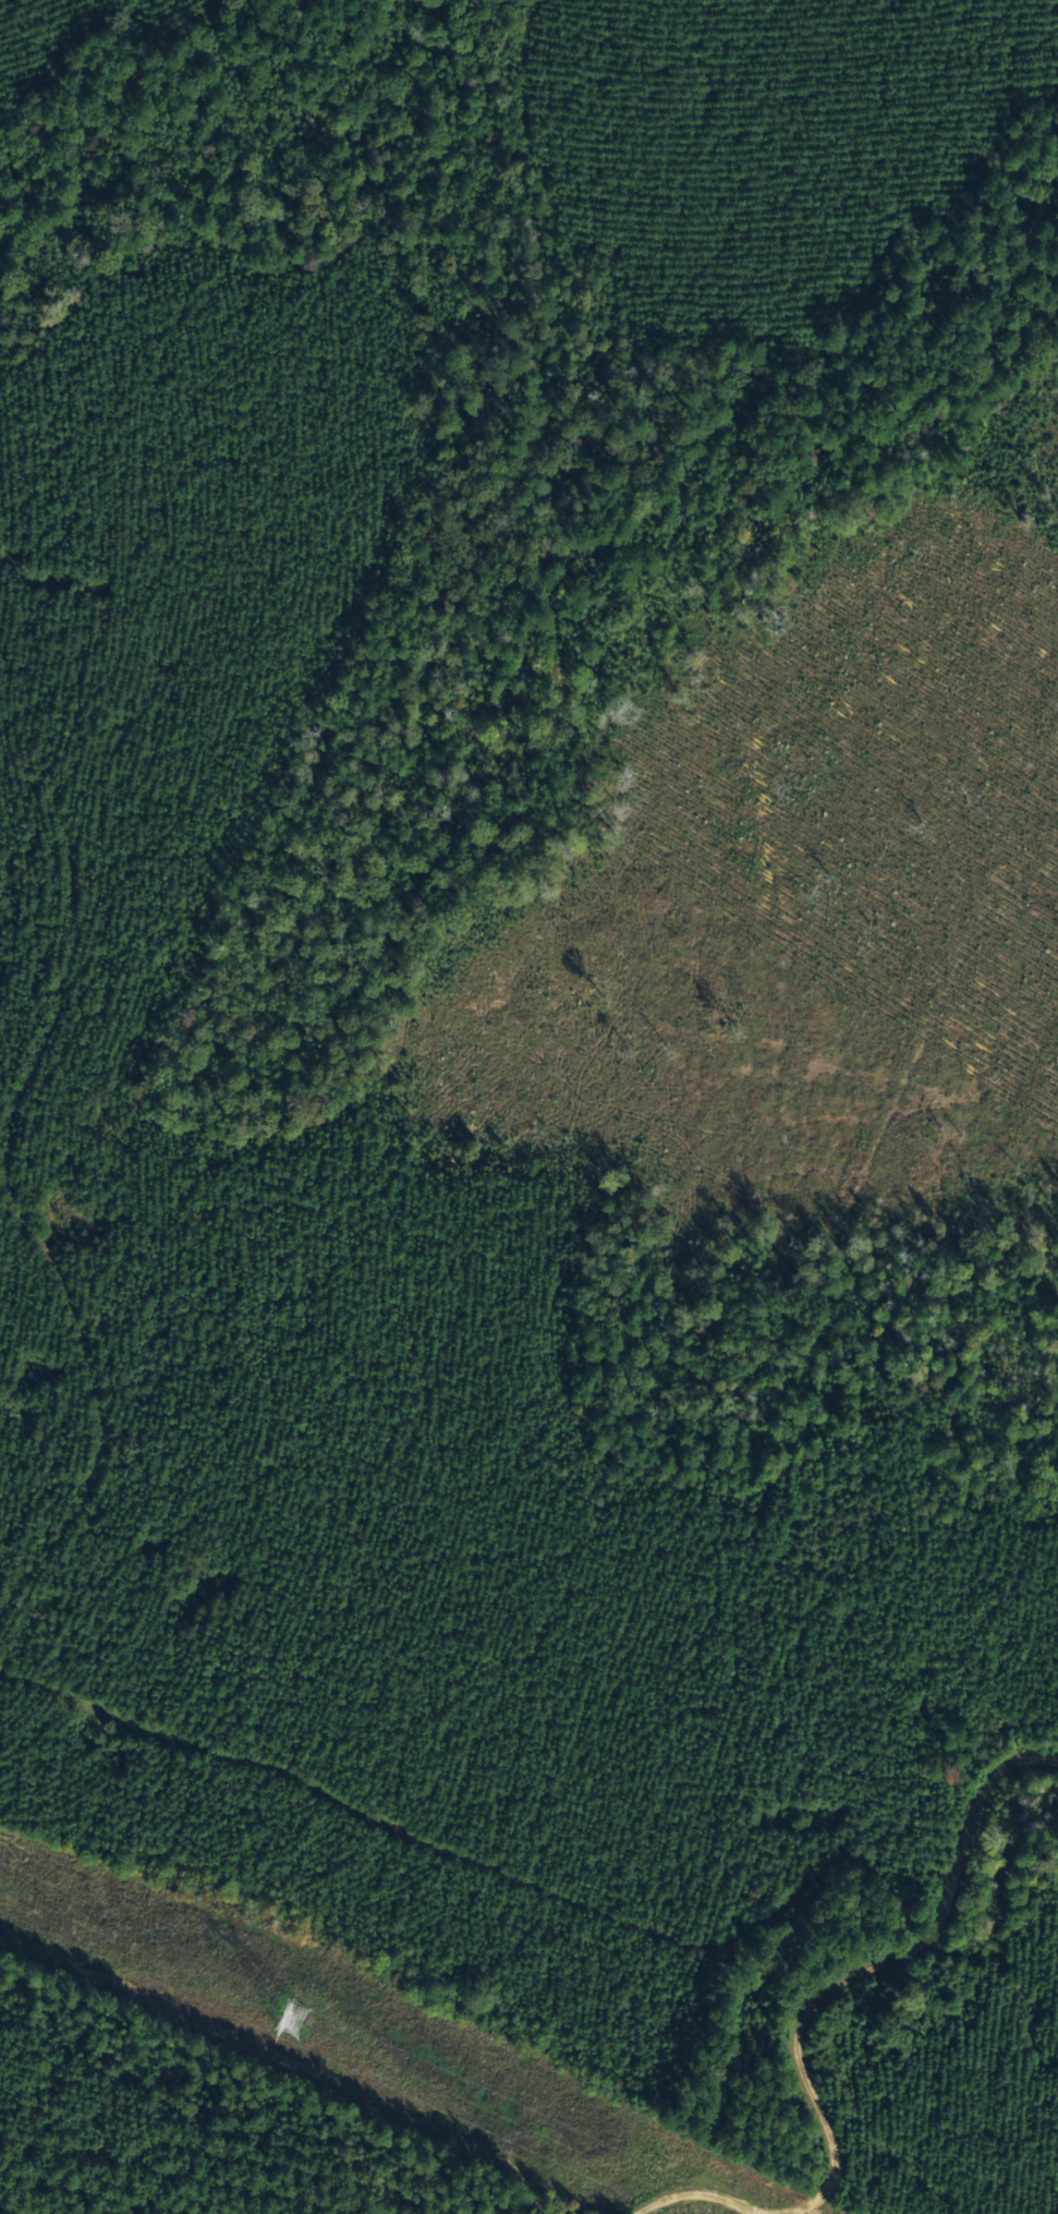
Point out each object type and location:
road: (869, 1959)
power tower: (292, 2017)

